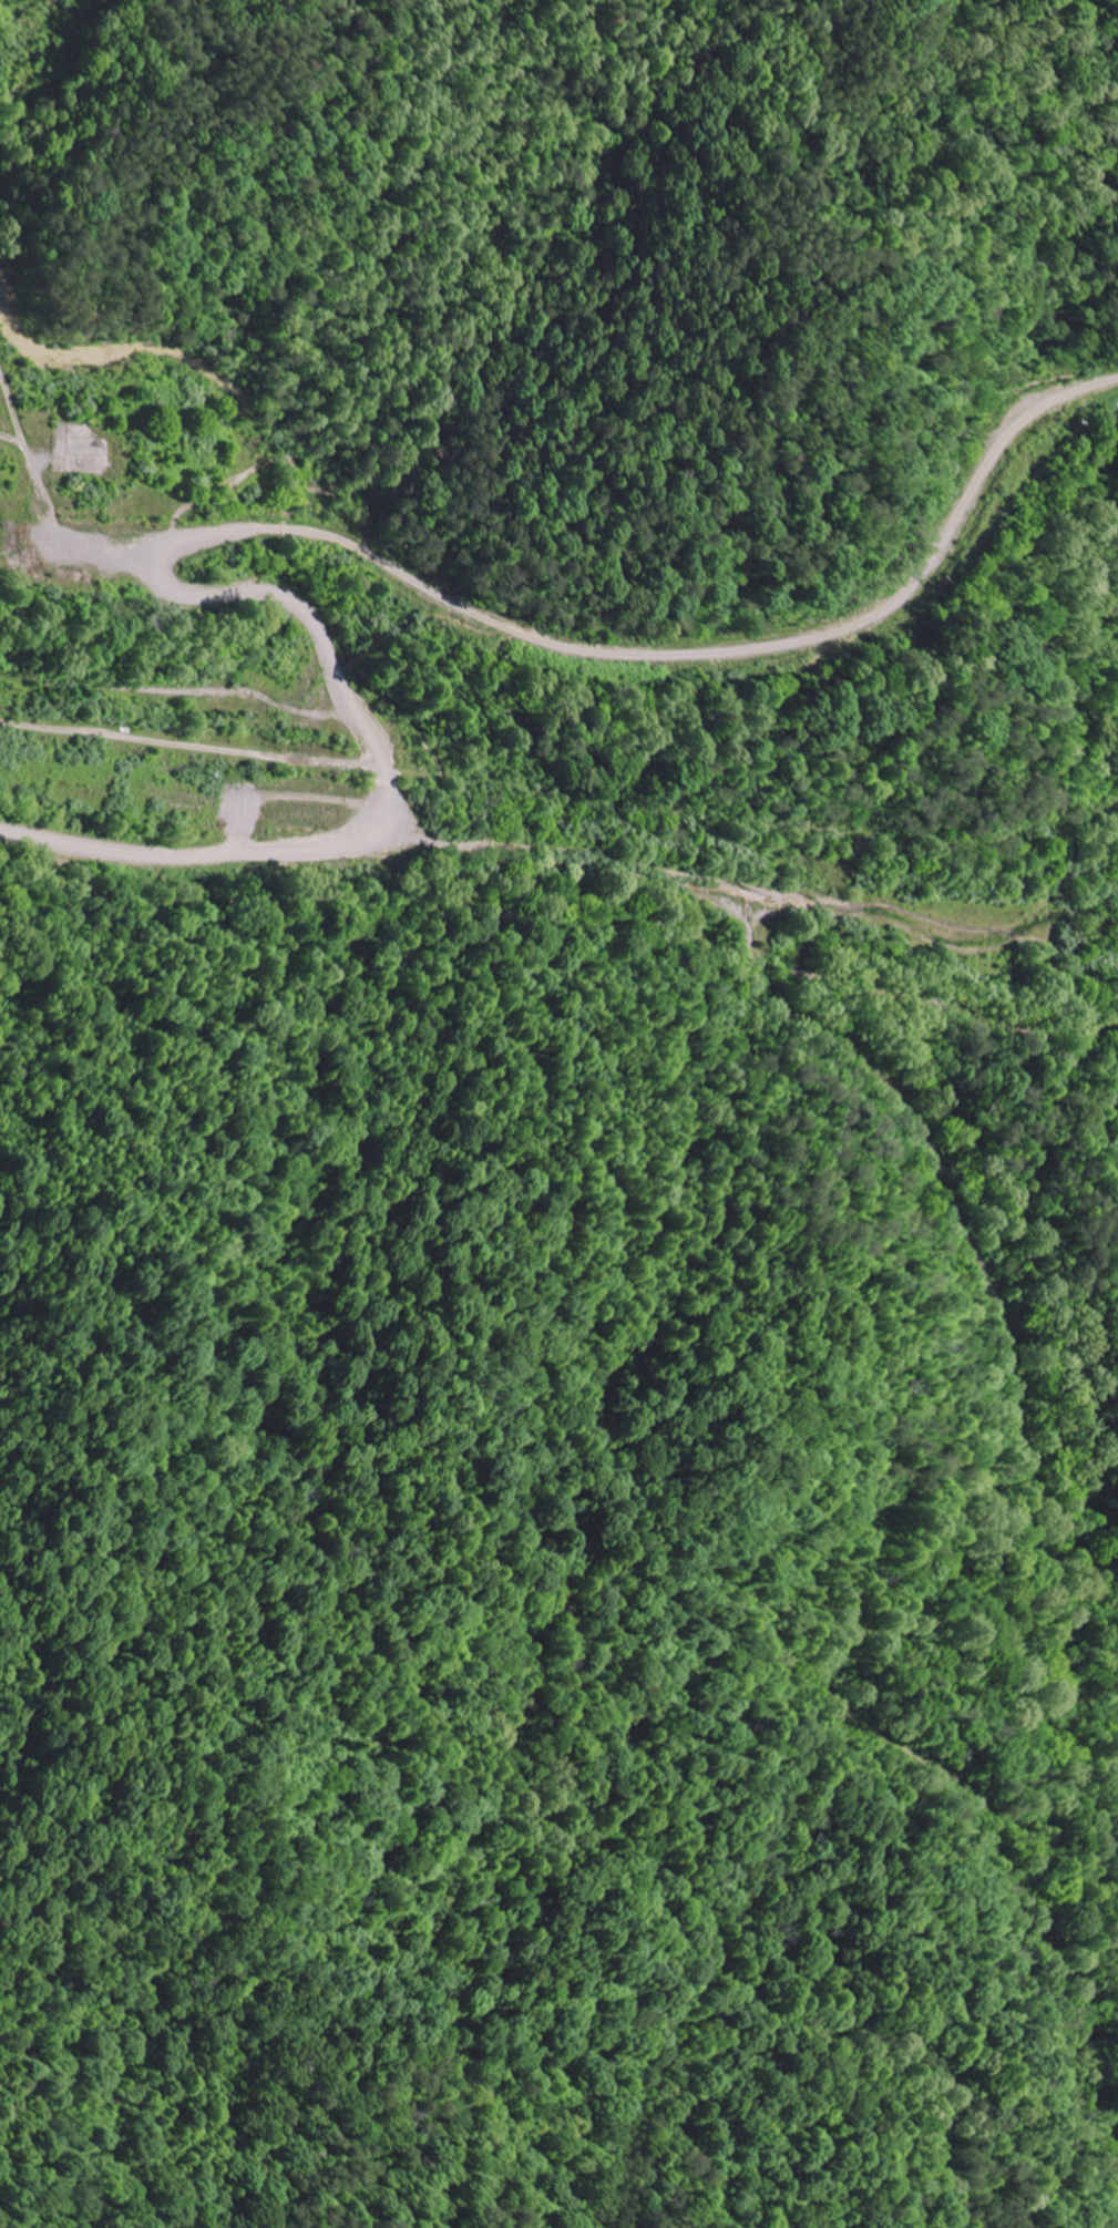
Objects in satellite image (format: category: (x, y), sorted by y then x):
road: (628, 648)
road: (195, 855)
road: (738, 918)
road: (917, 1763)

